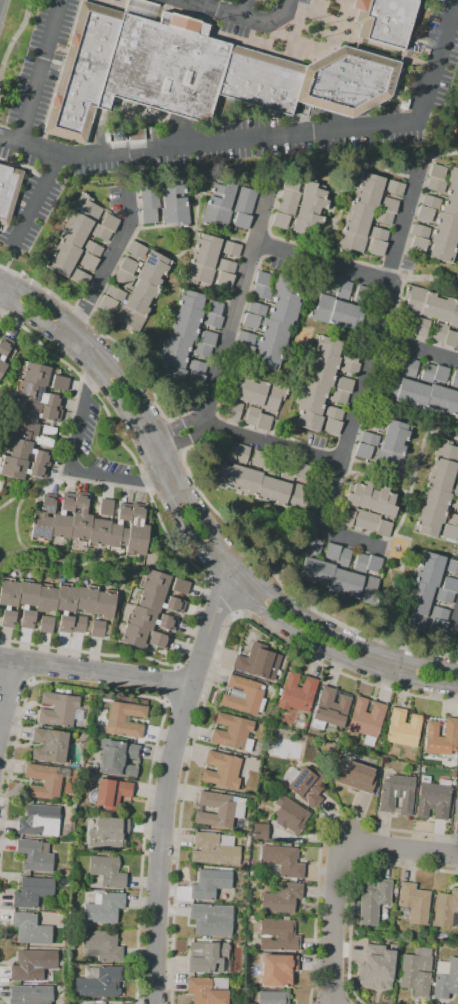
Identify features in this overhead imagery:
road: (205, 3)
road: (245, 9)
parking lot: (241, 12)
road: (243, 18)
building: (385, 20)
road: (16, 38)
parking lot: (43, 64)
road: (42, 71)
building: (196, 71)
road: (270, 136)
road: (439, 158)
building: (437, 172)
building: (453, 176)
building: (290, 182)
building: (370, 182)
building: (436, 185)
building: (223, 188)
building: (394, 188)
building: (171, 189)
building: (313, 190)
building: (8, 192)
building: (452, 192)
building: (149, 196)
building: (366, 197)
road: (37, 199)
building: (174, 200)
building: (219, 201)
building: (244, 202)
building: (430, 202)
building: (287, 203)
building: (313, 203)
building: (389, 205)
building: (450, 207)
building: (86, 209)
building: (359, 211)
building: (424, 214)
building: (215, 215)
building: (309, 215)
building: (148, 216)
building: (176, 216)
building: (383, 217)
building: (241, 221)
building: (280, 221)
building: (447, 222)
building: (80, 223)
building: (109, 223)
building: (302, 226)
building: (355, 226)
building: (419, 231)
building: (101, 233)
building: (377, 234)
building: (72, 237)
building: (444, 237)
building: (350, 242)
building: (207, 243)
building: (418, 244)
building: (377, 248)
building: (92, 249)
building: (231, 249)
building: (136, 250)
building: (67, 251)
building: (441, 252)
building: (203, 258)
road: (8, 261)
building: (88, 261)
road: (320, 262)
building: (157, 263)
building: (59, 265)
road: (107, 265)
building: (128, 266)
building: (226, 266)
building: (198, 274)
building: (149, 276)
building: (79, 278)
building: (124, 278)
road: (422, 278)
building: (224, 279)
building: (263, 279)
building: (332, 283)
building: (286, 285)
building: (343, 290)
building: (144, 291)
building: (115, 295)
building: (361, 295)
building: (277, 297)
building: (190, 299)
building: (414, 299)
building: (137, 304)
building: (106, 305)
road: (236, 305)
building: (430, 305)
building: (214, 307)
building: (256, 309)
building: (321, 309)
building: (444, 309)
building: (338, 313)
building: (187, 315)
building: (282, 315)
building: (352, 317)
building: (454, 317)
building: (130, 319)
building: (212, 320)
building: (266, 326)
building: (409, 326)
building: (422, 327)
building: (183, 330)
building: (439, 332)
building: (207, 338)
building: (245, 339)
building: (450, 339)
road: (108, 344)
building: (176, 344)
building: (271, 344)
building: (327, 346)
building: (201, 349)
road: (418, 350)
building: (4, 351)
building: (244, 351)
building: (350, 355)
building: (172, 359)
building: (267, 360)
building: (324, 361)
building: (399, 362)
building: (196, 367)
building: (349, 367)
building: (410, 367)
building: (428, 373)
building: (35, 374)
building: (440, 374)
building: (173, 375)
building: (320, 376)
road: (365, 378)
building: (455, 379)
building: (195, 380)
building: (59, 382)
building: (344, 384)
building: (387, 386)
building: (242, 388)
building: (313, 390)
building: (405, 392)
building: (257, 393)
building: (36, 395)
building: (338, 396)
building: (420, 396)
building: (272, 397)
building: (435, 397)
building: (450, 402)
building: (309, 405)
building: (234, 410)
building: (35, 413)
building: (456, 413)
building: (332, 414)
building: (251, 416)
building: (308, 421)
building: (263, 422)
building: (374, 422)
building: (332, 427)
building: (397, 430)
building: (31, 433)
road: (240, 435)
road: (175, 437)
building: (369, 439)
building: (393, 445)
building: (28, 451)
building: (363, 451)
building: (446, 451)
building: (228, 453)
building: (241, 454)
building: (258, 459)
building: (388, 461)
road: (71, 463)
building: (269, 467)
building: (443, 468)
building: (20, 469)
building: (287, 471)
building: (301, 471)
building: (457, 475)
building: (220, 476)
building: (236, 478)
road: (375, 479)
building: (250, 482)
building: (439, 482)
building: (1, 484)
building: (265, 489)
building: (456, 490)
building: (280, 493)
building: (352, 494)
building: (366, 495)
building: (436, 498)
building: (295, 499)
building: (378, 499)
building: (455, 502)
building: (389, 505)
road: (198, 511)
building: (431, 512)
building: (62, 517)
building: (43, 518)
building: (81, 518)
building: (346, 518)
building: (365, 520)
building: (452, 520)
building: (100, 523)
building: (119, 527)
building: (427, 527)
building: (383, 528)
road: (395, 530)
building: (136, 532)
building: (449, 532)
road: (191, 538)
road: (277, 546)
building: (314, 546)
building: (331, 552)
road: (181, 555)
building: (343, 558)
road: (227, 560)
building: (431, 562)
building: (360, 563)
building: (373, 564)
building: (452, 566)
building: (308, 570)
building: (323, 574)
building: (427, 577)
building: (154, 581)
building: (337, 581)
building: (352, 585)
building: (450, 585)
building: (180, 587)
building: (367, 589)
road: (286, 590)
building: (421, 590)
building: (443, 596)
building: (46, 599)
building: (85, 599)
building: (8, 601)
building: (27, 602)
building: (158, 602)
building: (104, 604)
building: (416, 606)
building: (65, 607)
road: (239, 610)
building: (439, 614)
building: (149, 620)
building: (410, 622)
building: (45, 624)
building: (81, 624)
building: (438, 627)
road: (455, 627)
building: (99, 629)
building: (133, 636)
building: (158, 640)
road: (0, 641)
building: (258, 662)
road: (34, 664)
road: (95, 672)
road: (15, 682)
road: (171, 685)
road: (209, 687)
building: (59, 690)
road: (7, 692)
building: (67, 692)
building: (296, 693)
building: (243, 696)
road: (162, 702)
building: (330, 709)
building: (60, 711)
building: (267, 719)
building: (124, 720)
building: (272, 720)
building: (365, 720)
building: (403, 728)
building: (232, 733)
building: (441, 737)
building: (49, 746)
building: (117, 758)
building: (66, 763)
building: (87, 766)
building: (221, 770)
building: (453, 774)
building: (356, 777)
road: (168, 779)
building: (45, 780)
building: (304, 785)
building: (111, 794)
building: (397, 794)
building: (433, 799)
building: (73, 801)
building: (73, 806)
building: (456, 807)
building: (219, 809)
building: (289, 816)
building: (39, 821)
building: (108, 832)
building: (260, 832)
road: (321, 841)
building: (214, 849)
road: (401, 849)
building: (34, 856)
building: (282, 860)
building: (107, 872)
building: (66, 873)
building: (210, 883)
road: (353, 888)
building: (32, 892)
building: (282, 898)
building: (373, 900)
building: (413, 903)
building: (104, 908)
building: (446, 909)
building: (211, 920)
road: (334, 920)
building: (78, 922)
building: (30, 929)
building: (278, 935)
building: (239, 937)
building: (102, 946)
building: (208, 957)
building: (32, 964)
building: (376, 968)
building: (277, 970)
building: (416, 972)
building: (445, 978)
building: (99, 982)
building: (208, 990)
building: (31, 994)
building: (273, 998)

